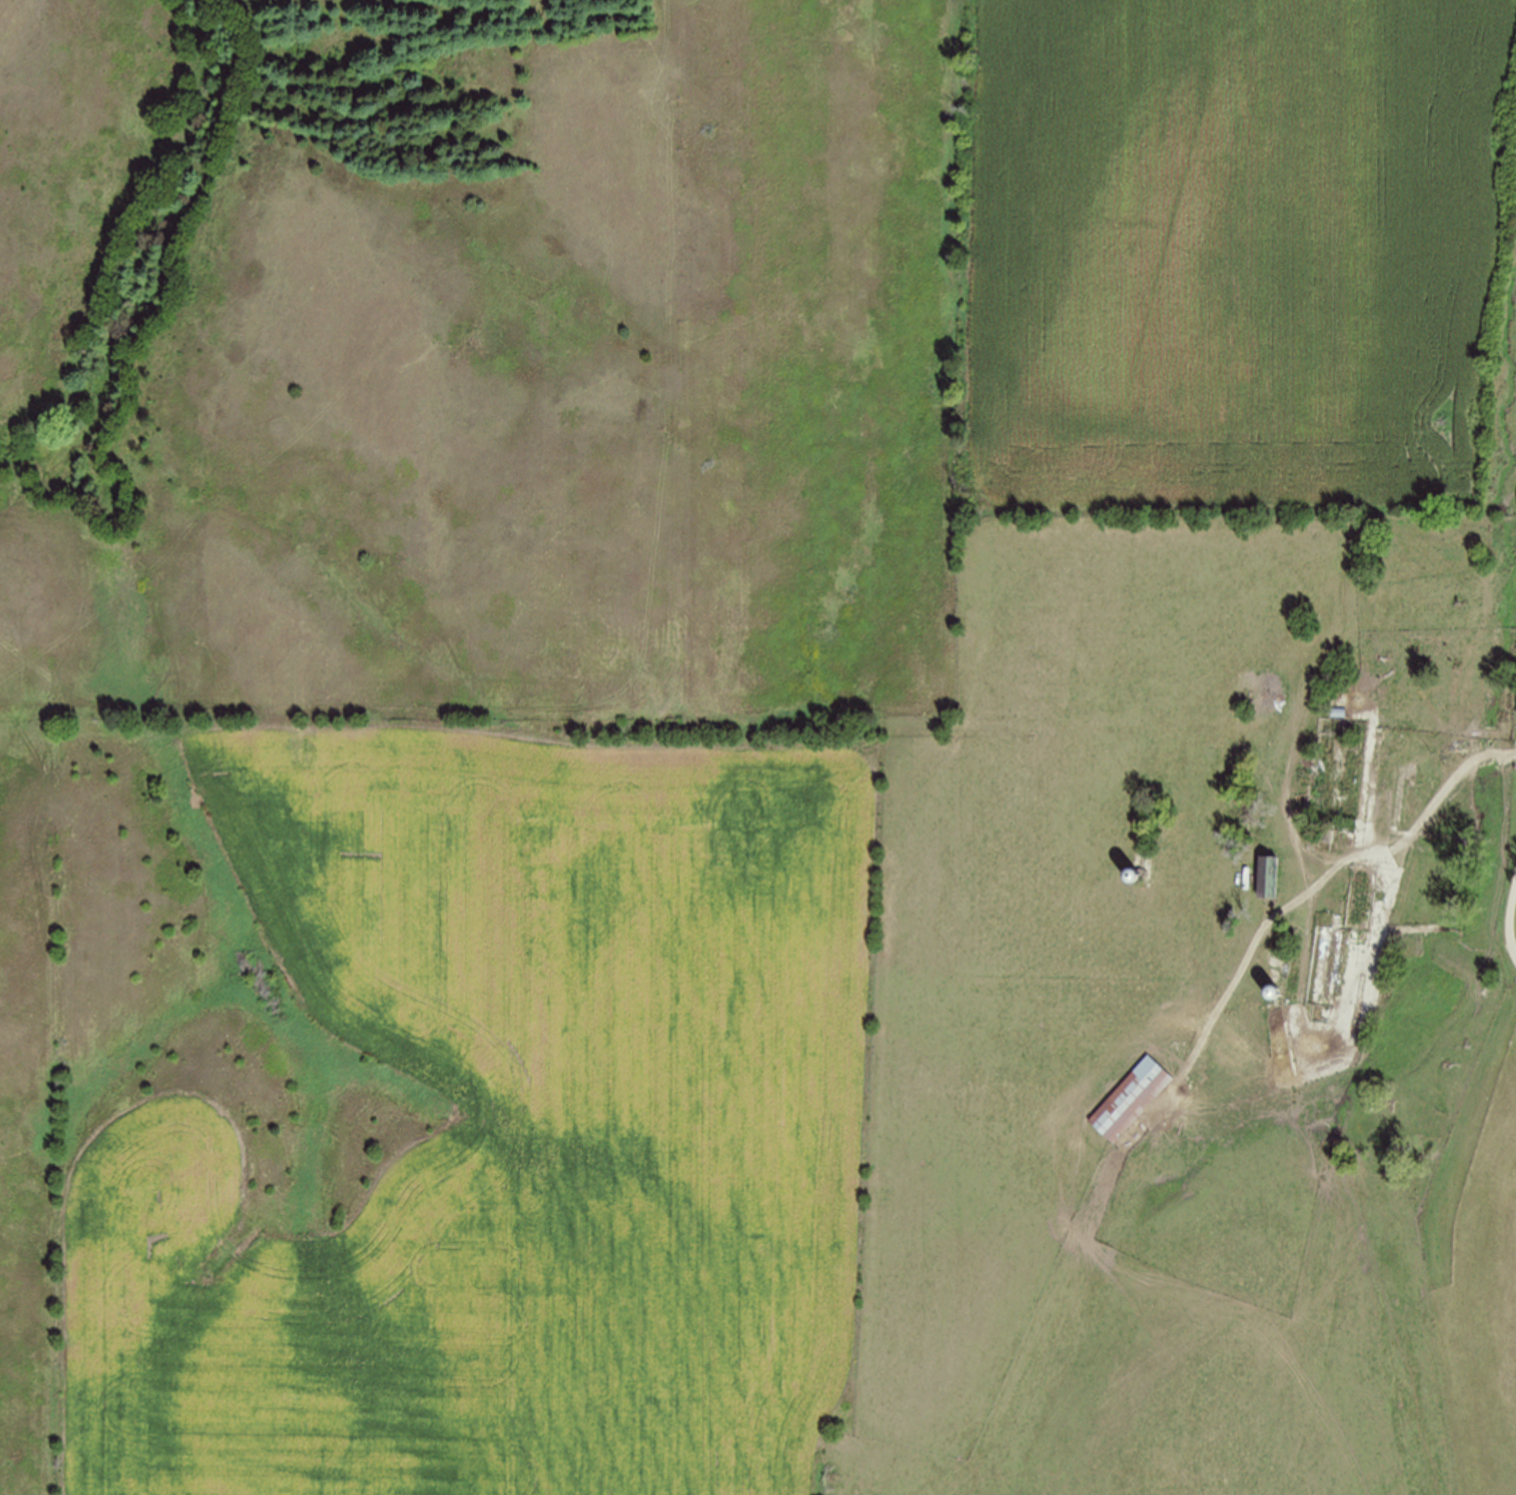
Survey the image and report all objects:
building: (1269, 877)
road: (1322, 882)
road: (1511, 924)
building: (1269, 992)
building: (1131, 1098)

